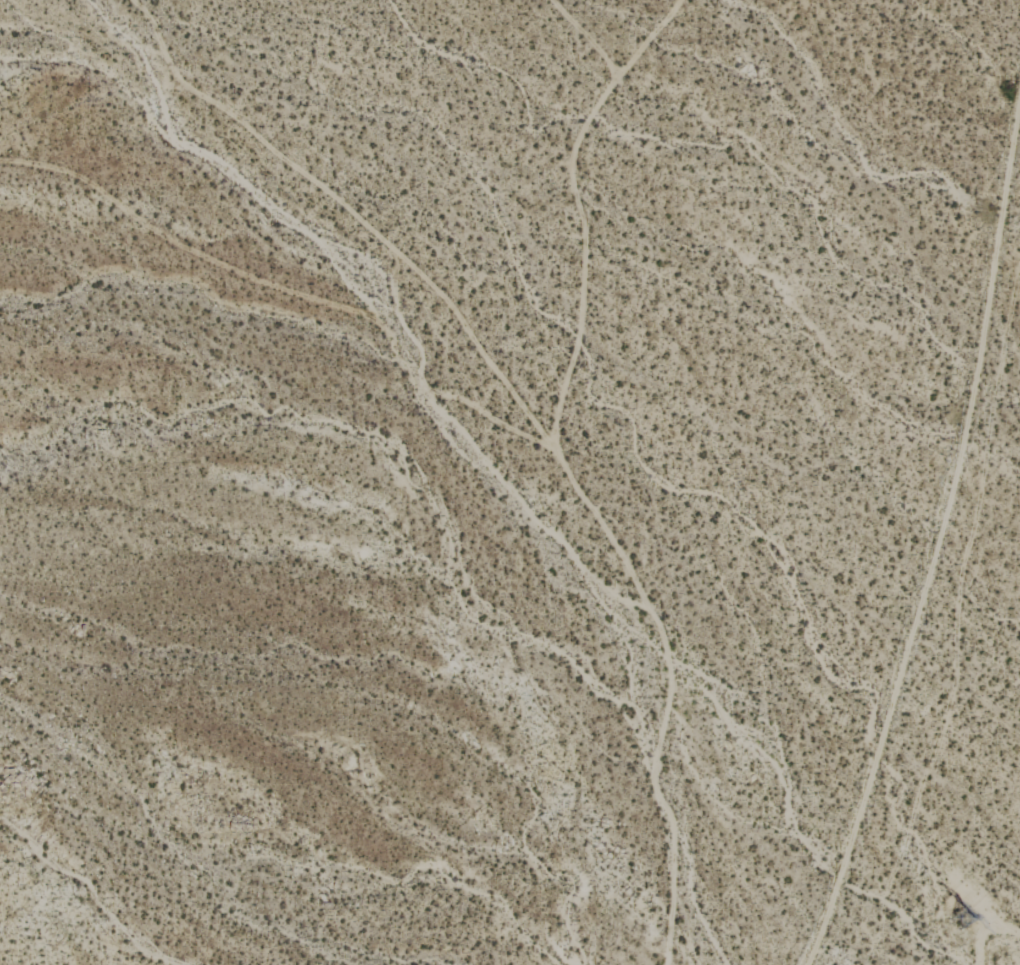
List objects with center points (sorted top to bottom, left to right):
power tower: (960, 918)

